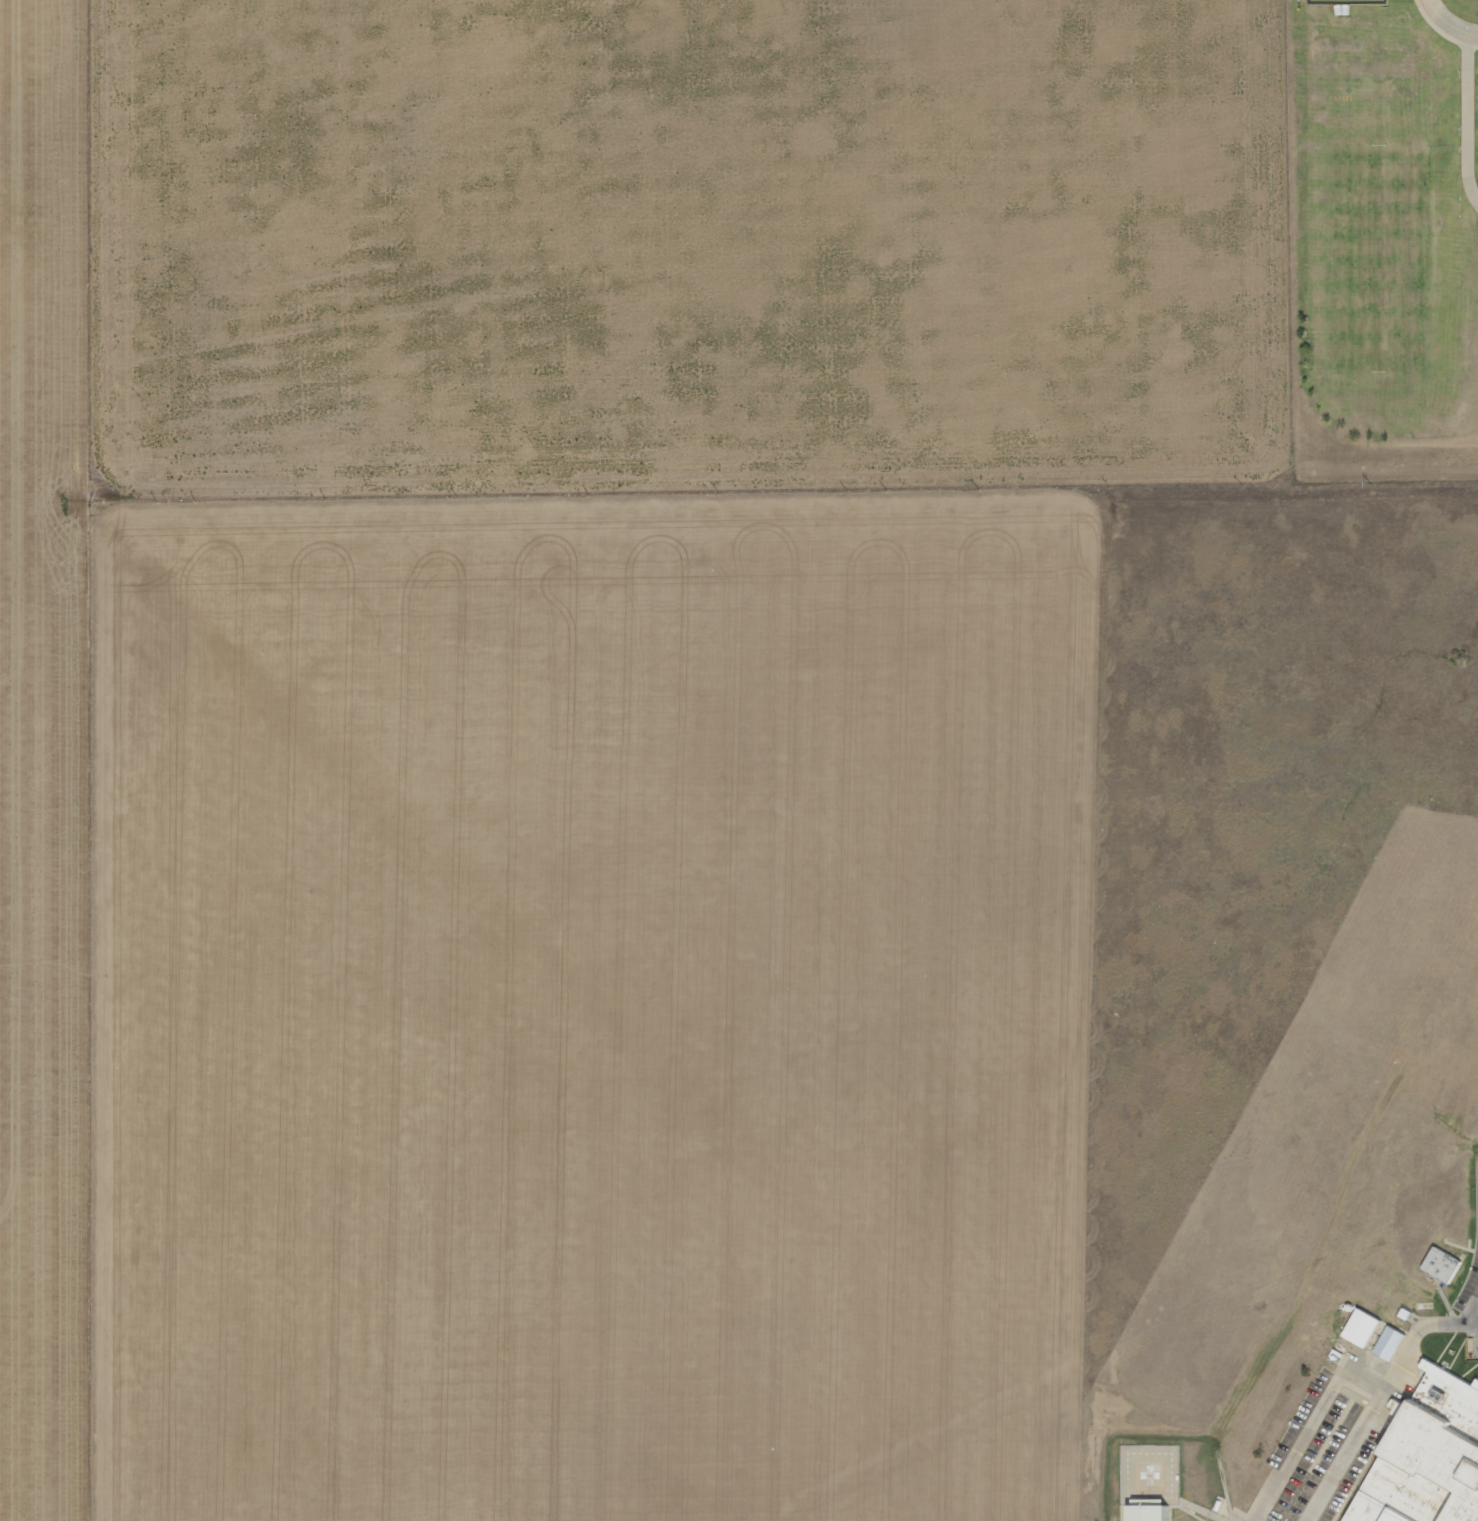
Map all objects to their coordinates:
park: (1343, 2)
road: (1448, 24)
road: (1474, 115)
building: (1448, 1268)
road: (1471, 1306)
building: (1356, 1328)
building: (1368, 1332)
building: (1383, 1343)
building: (1396, 1345)
building: (1431, 1457)
helipad: (1150, 1475)
building: (1153, 1515)
road: (1244, 1520)

